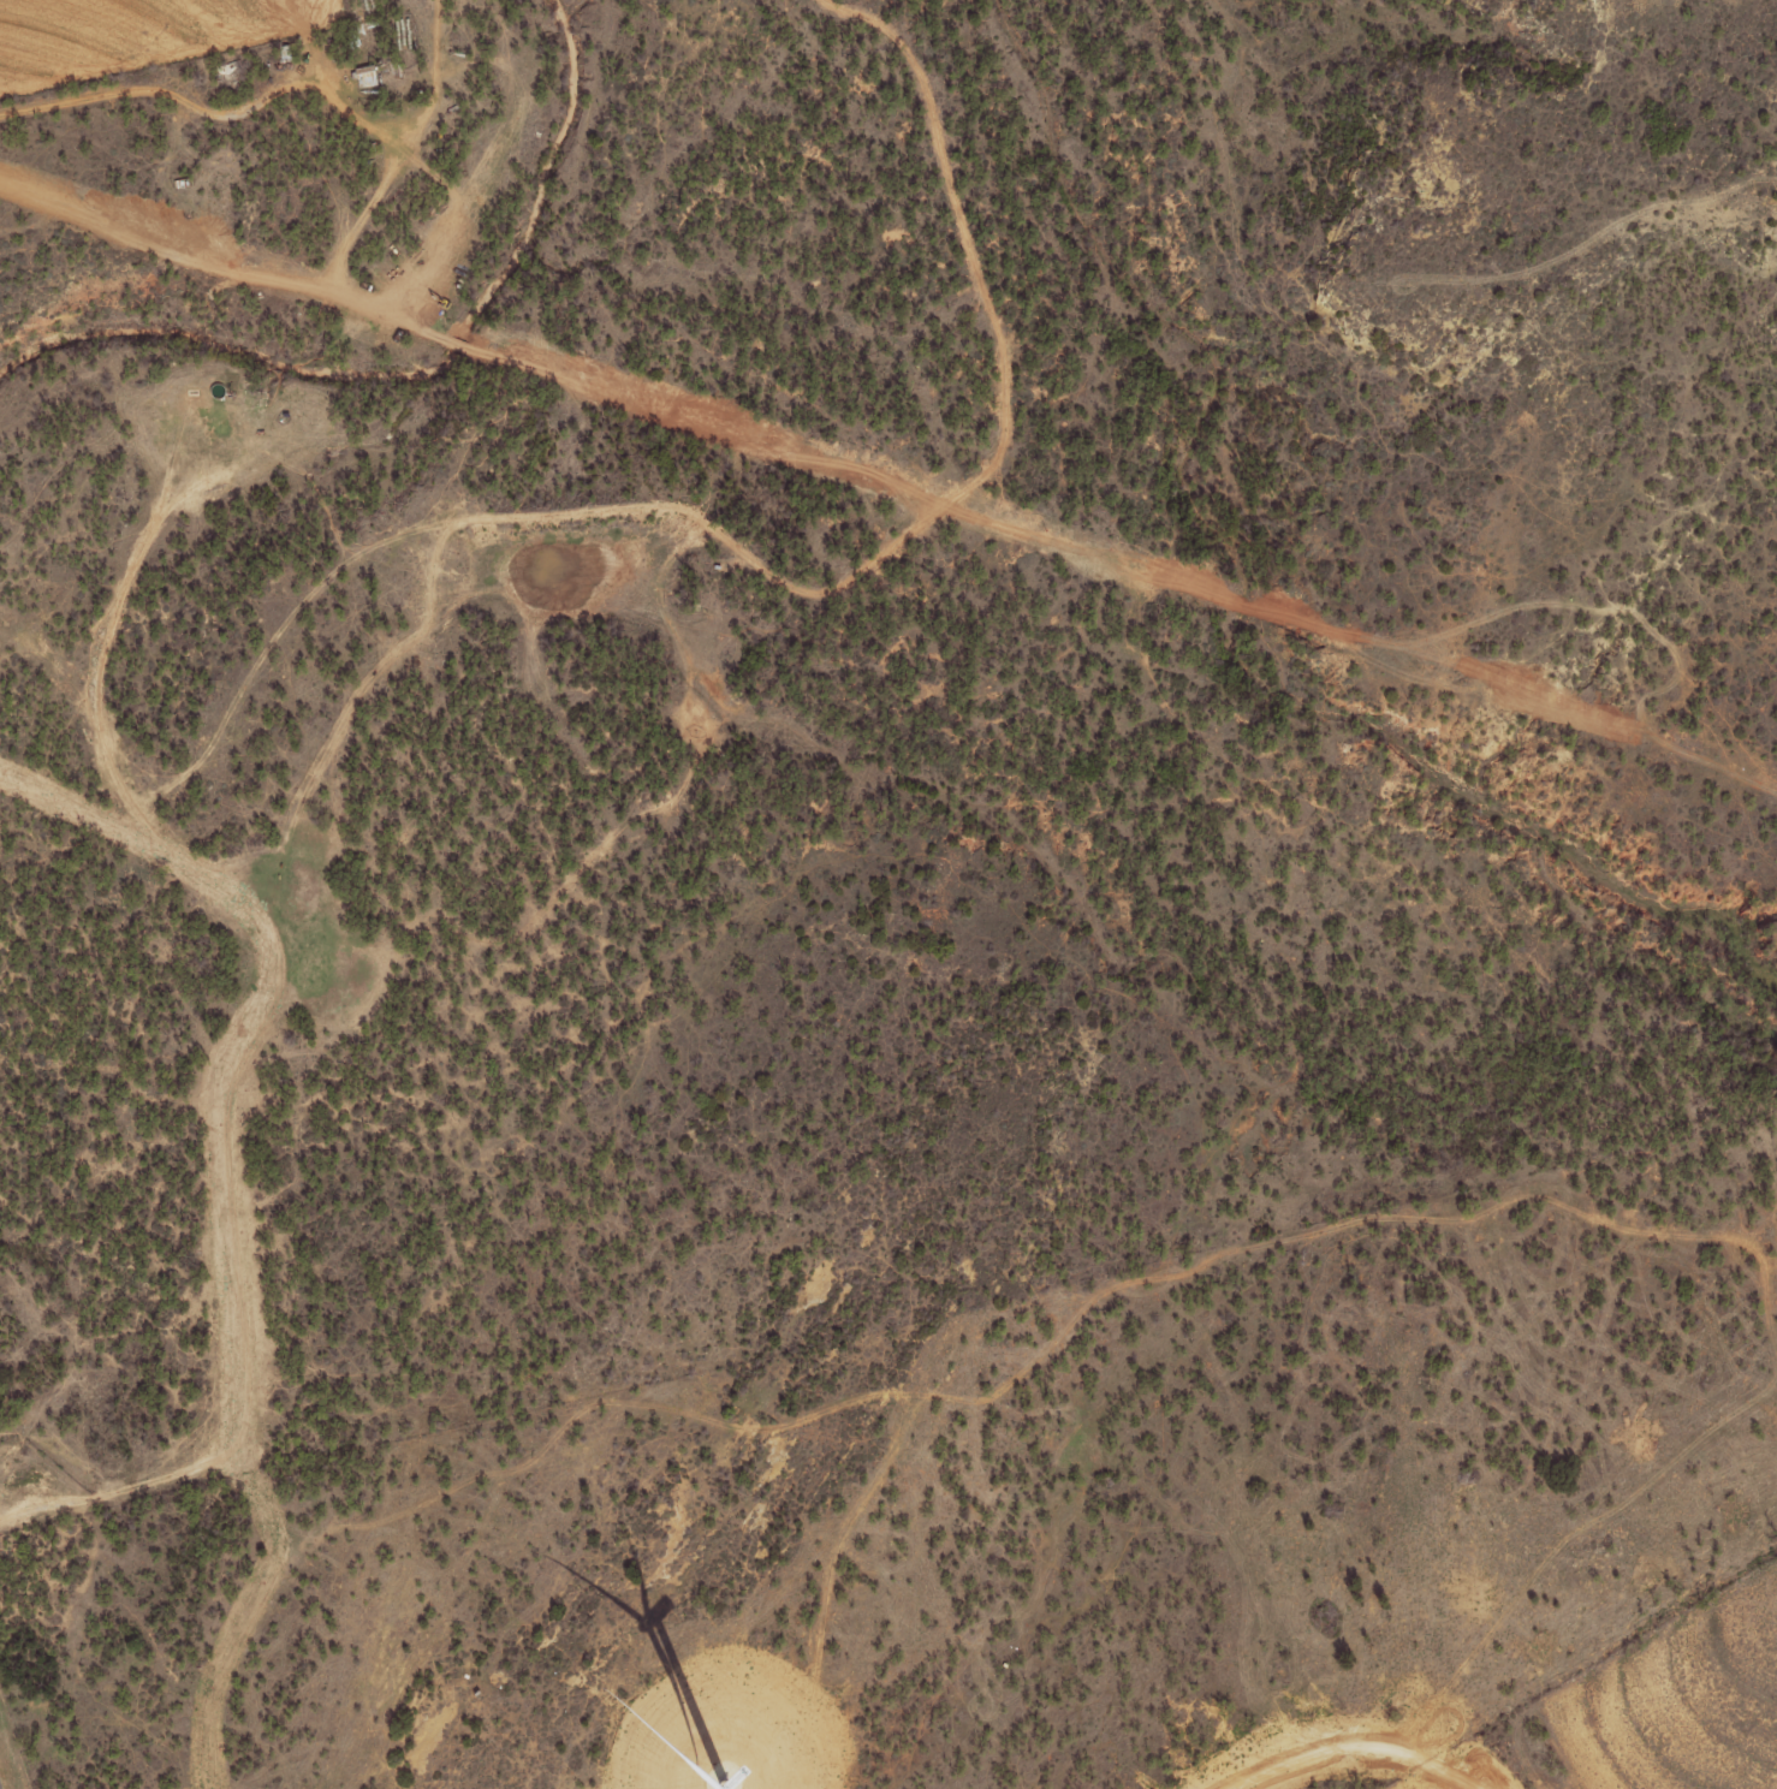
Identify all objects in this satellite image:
road: (170, 93)
road: (1367, 1746)
wind turbine: (720, 1785)

